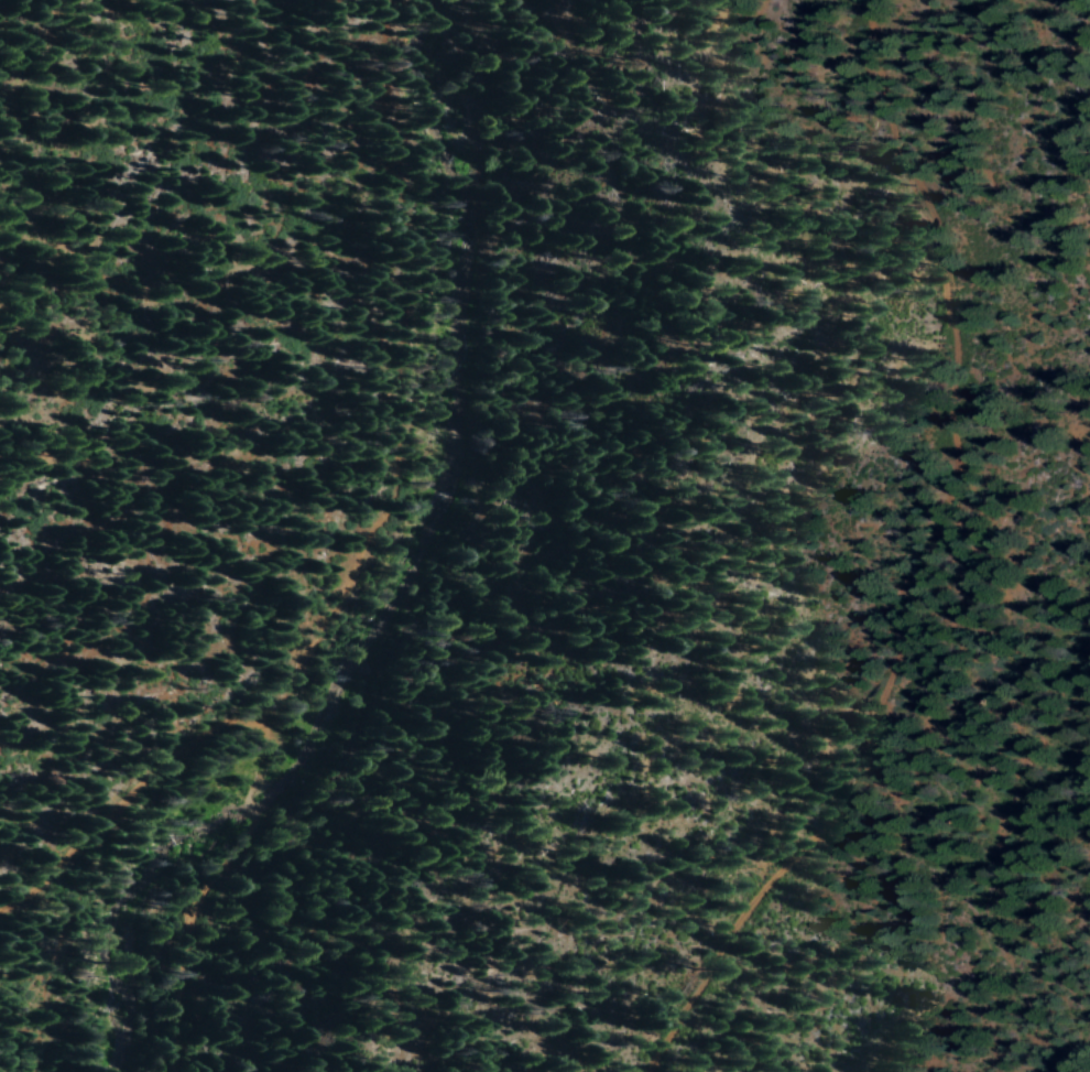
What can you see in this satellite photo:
road: (969, 562)
road: (269, 764)

